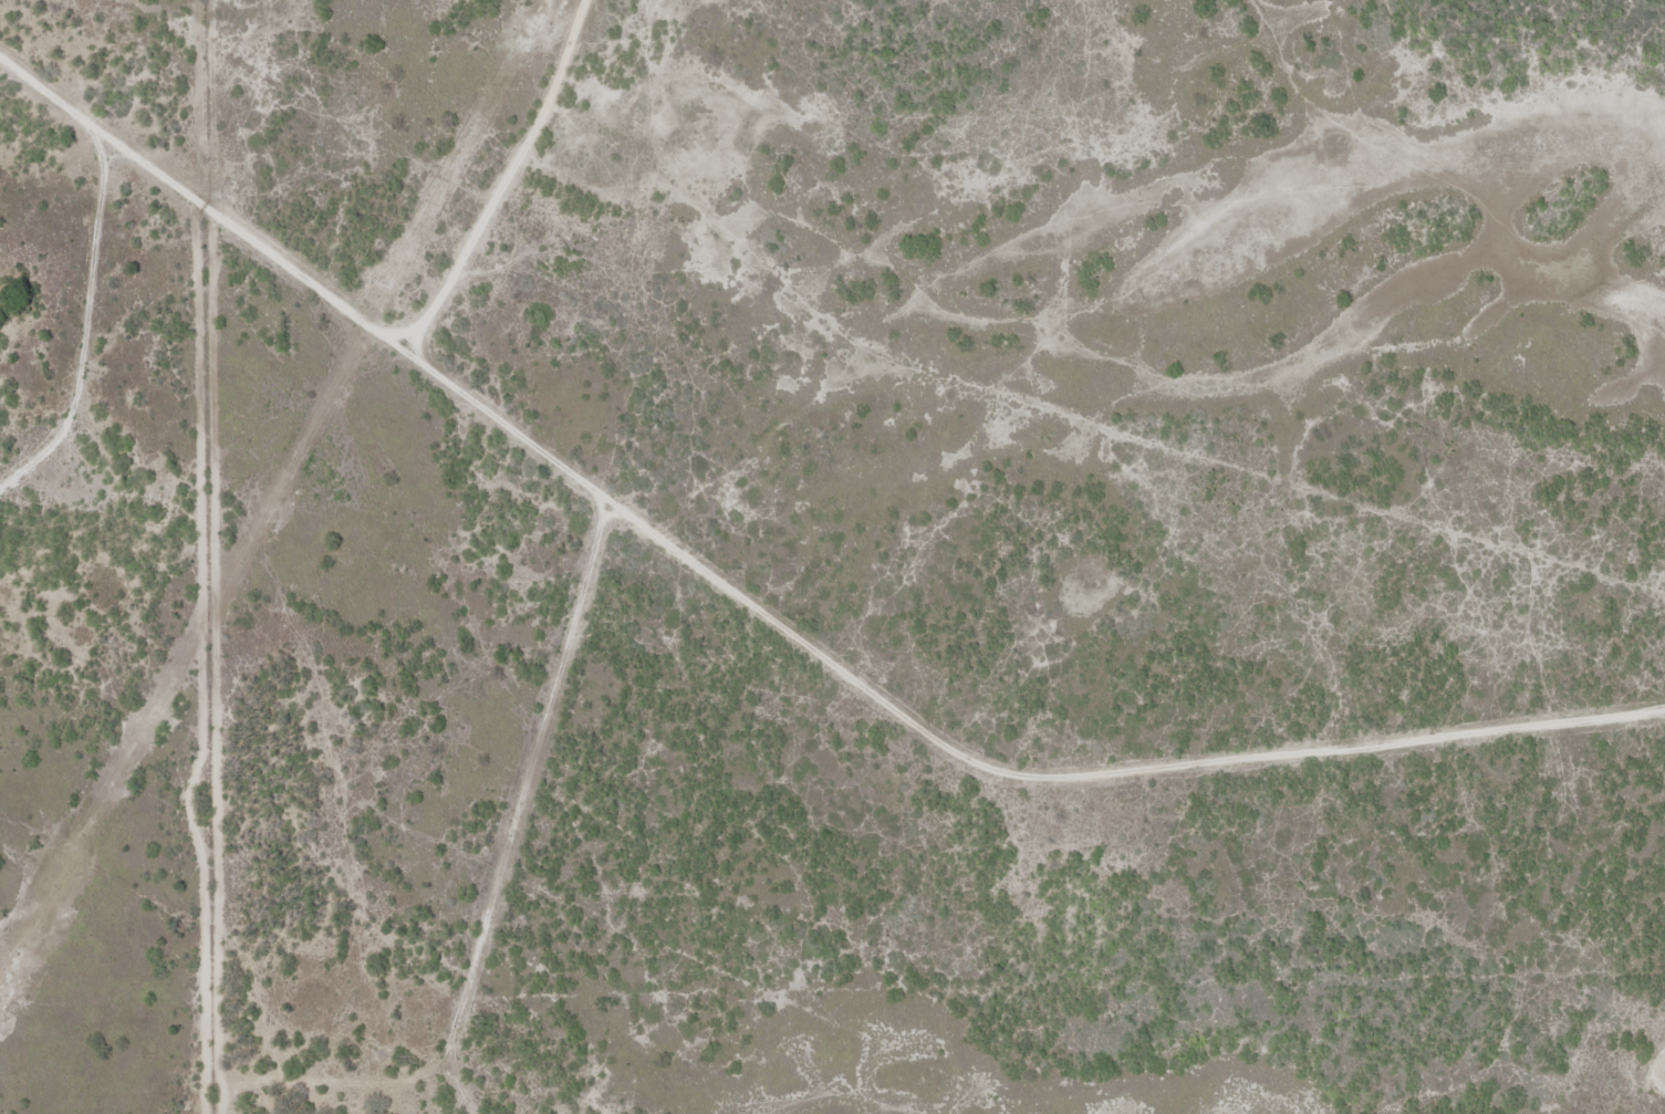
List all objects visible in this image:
road: (527, 424)

